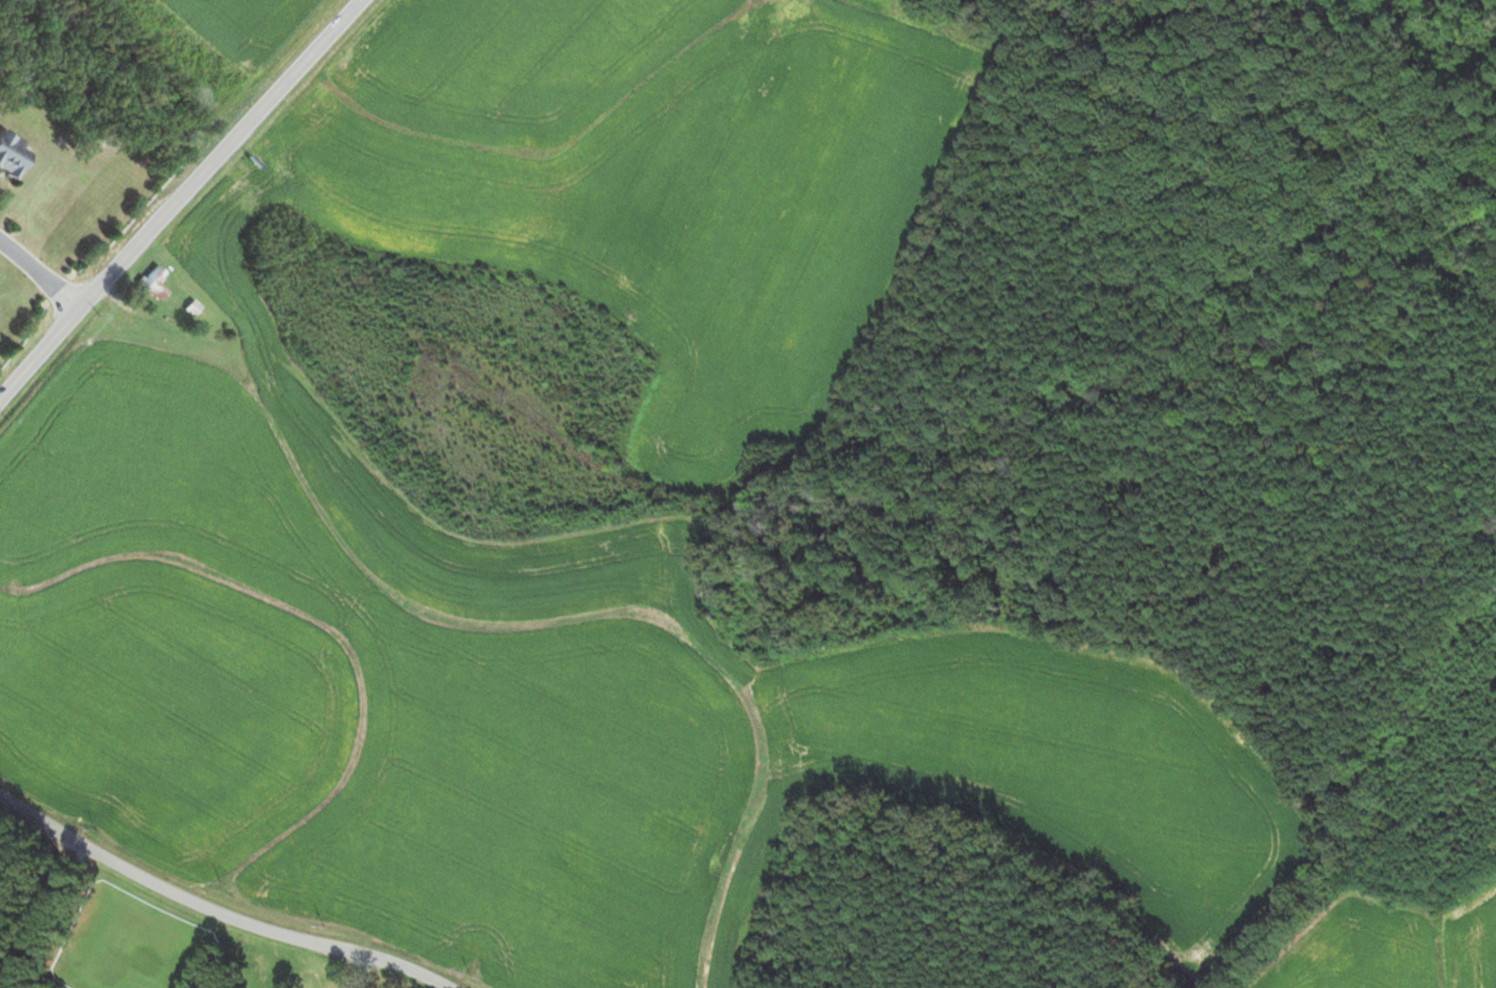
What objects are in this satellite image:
power tower: (256, 85)
building: (10, 156)
power tower: (170, 175)
road: (179, 199)
road: (41, 275)
building: (149, 281)
building: (191, 308)
power tower: (100, 316)
power tower: (7, 420)
road: (214, 913)

